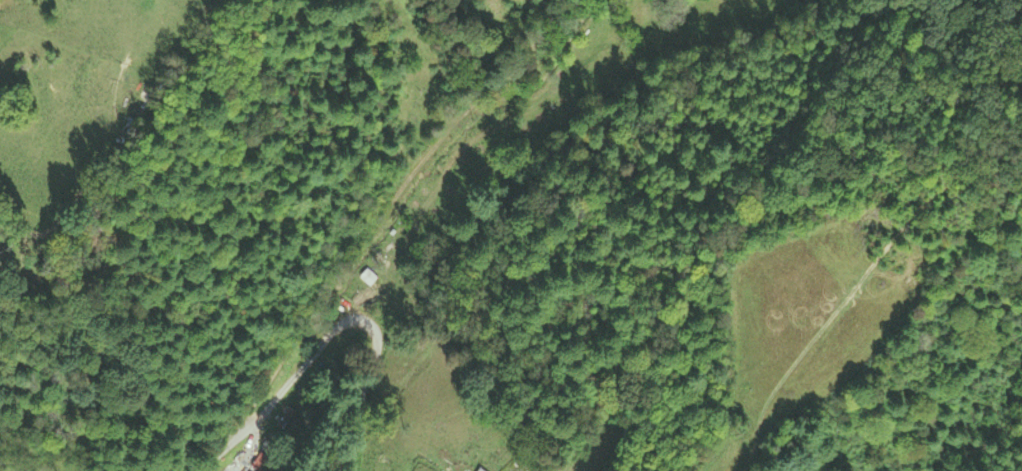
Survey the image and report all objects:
road: (381, 221)
road: (375, 357)
building: (479, 470)

